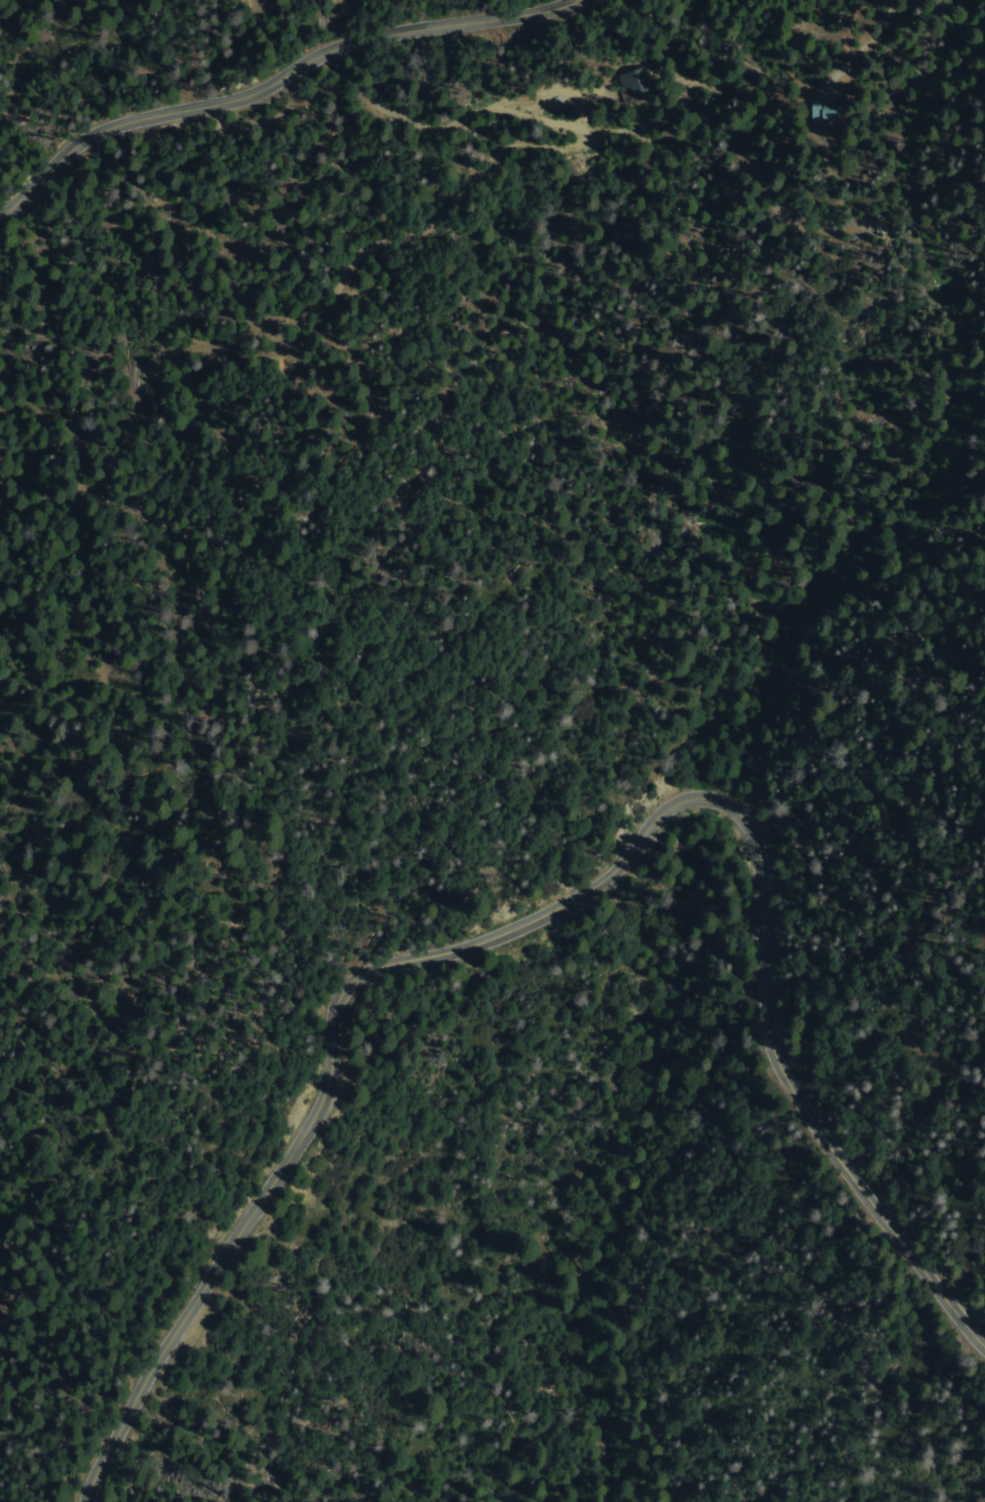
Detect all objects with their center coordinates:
road: (270, 83)
building: (638, 84)
building: (829, 107)
road: (564, 902)

